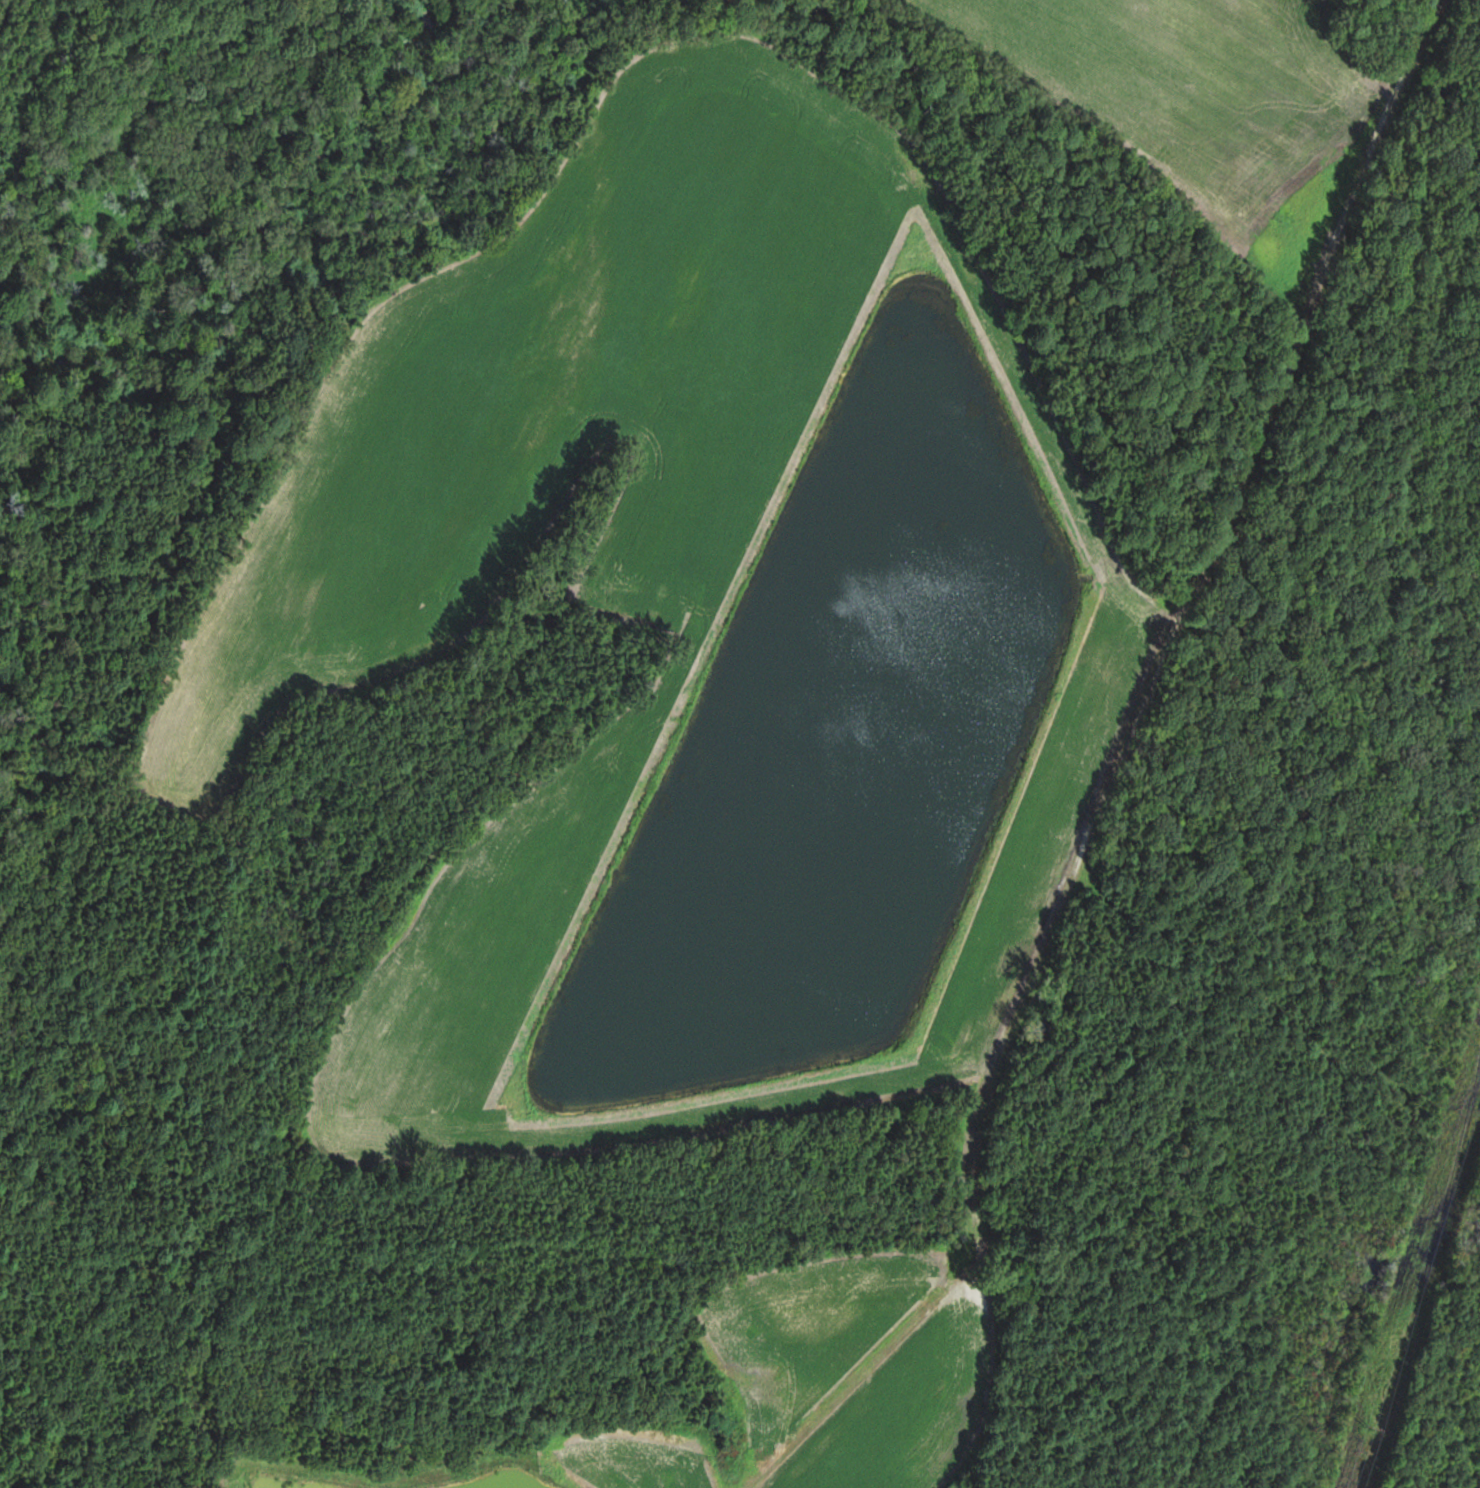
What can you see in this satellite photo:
power tower: (1370, 1427)

